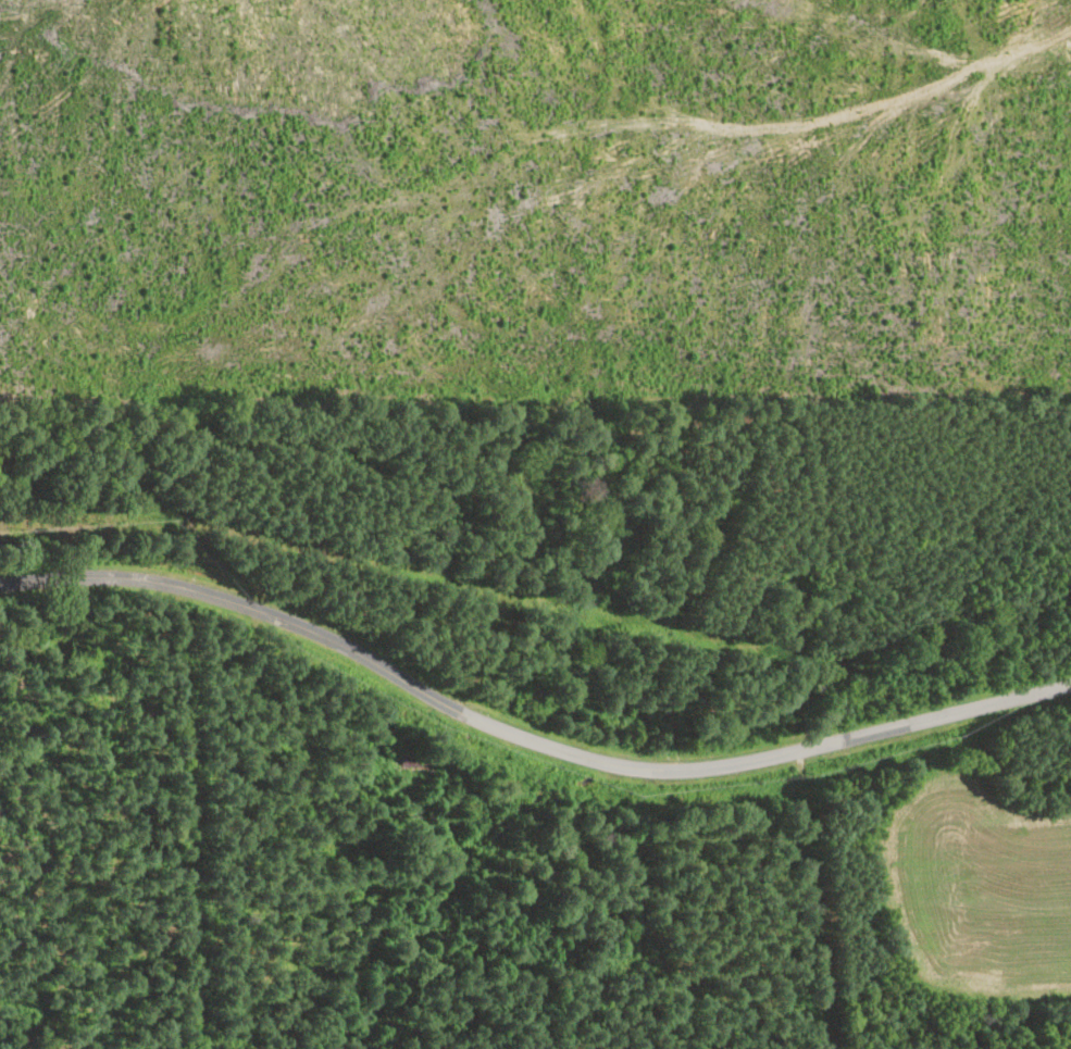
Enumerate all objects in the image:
road: (525, 726)

